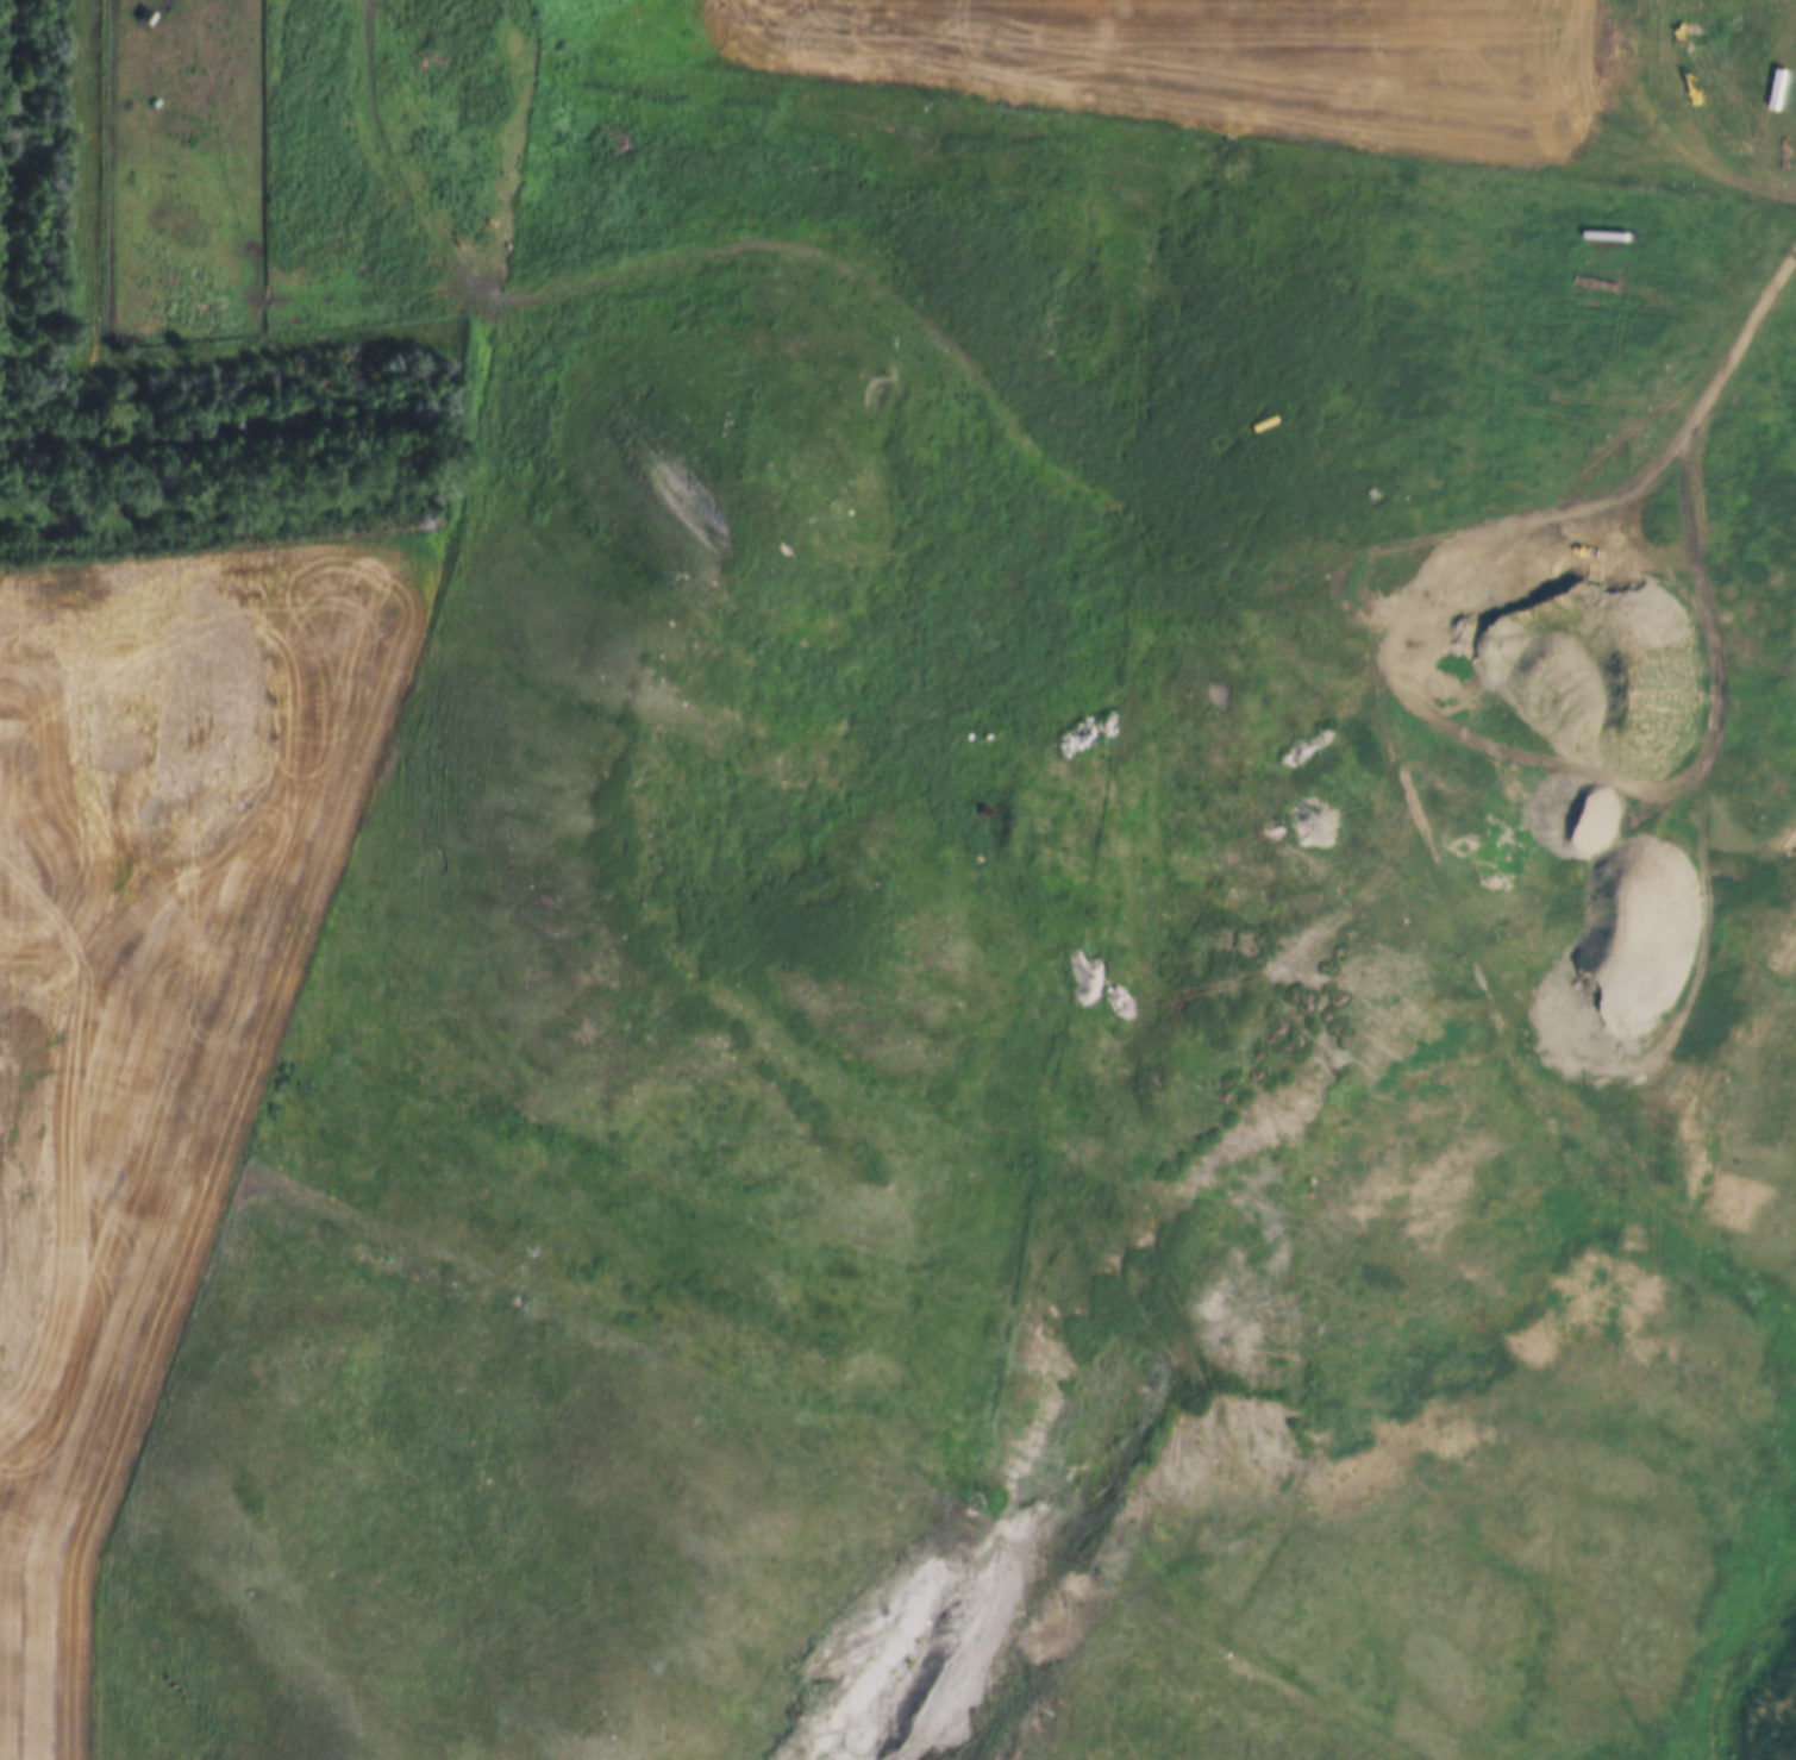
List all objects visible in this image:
road: (200, 350)

